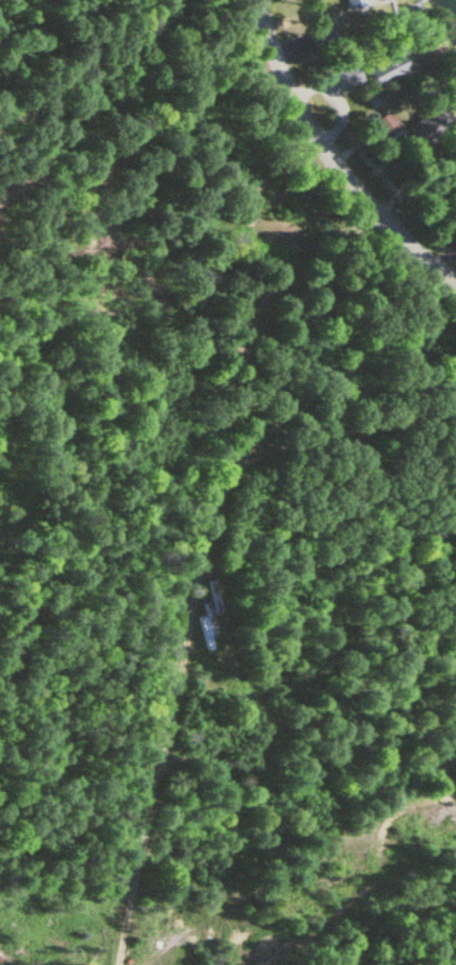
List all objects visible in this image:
building: (357, 3)
building: (324, 36)
building: (390, 69)
building: (433, 120)
building: (385, 127)
road: (333, 156)
road: (191, 593)
building: (209, 617)
road: (362, 905)

